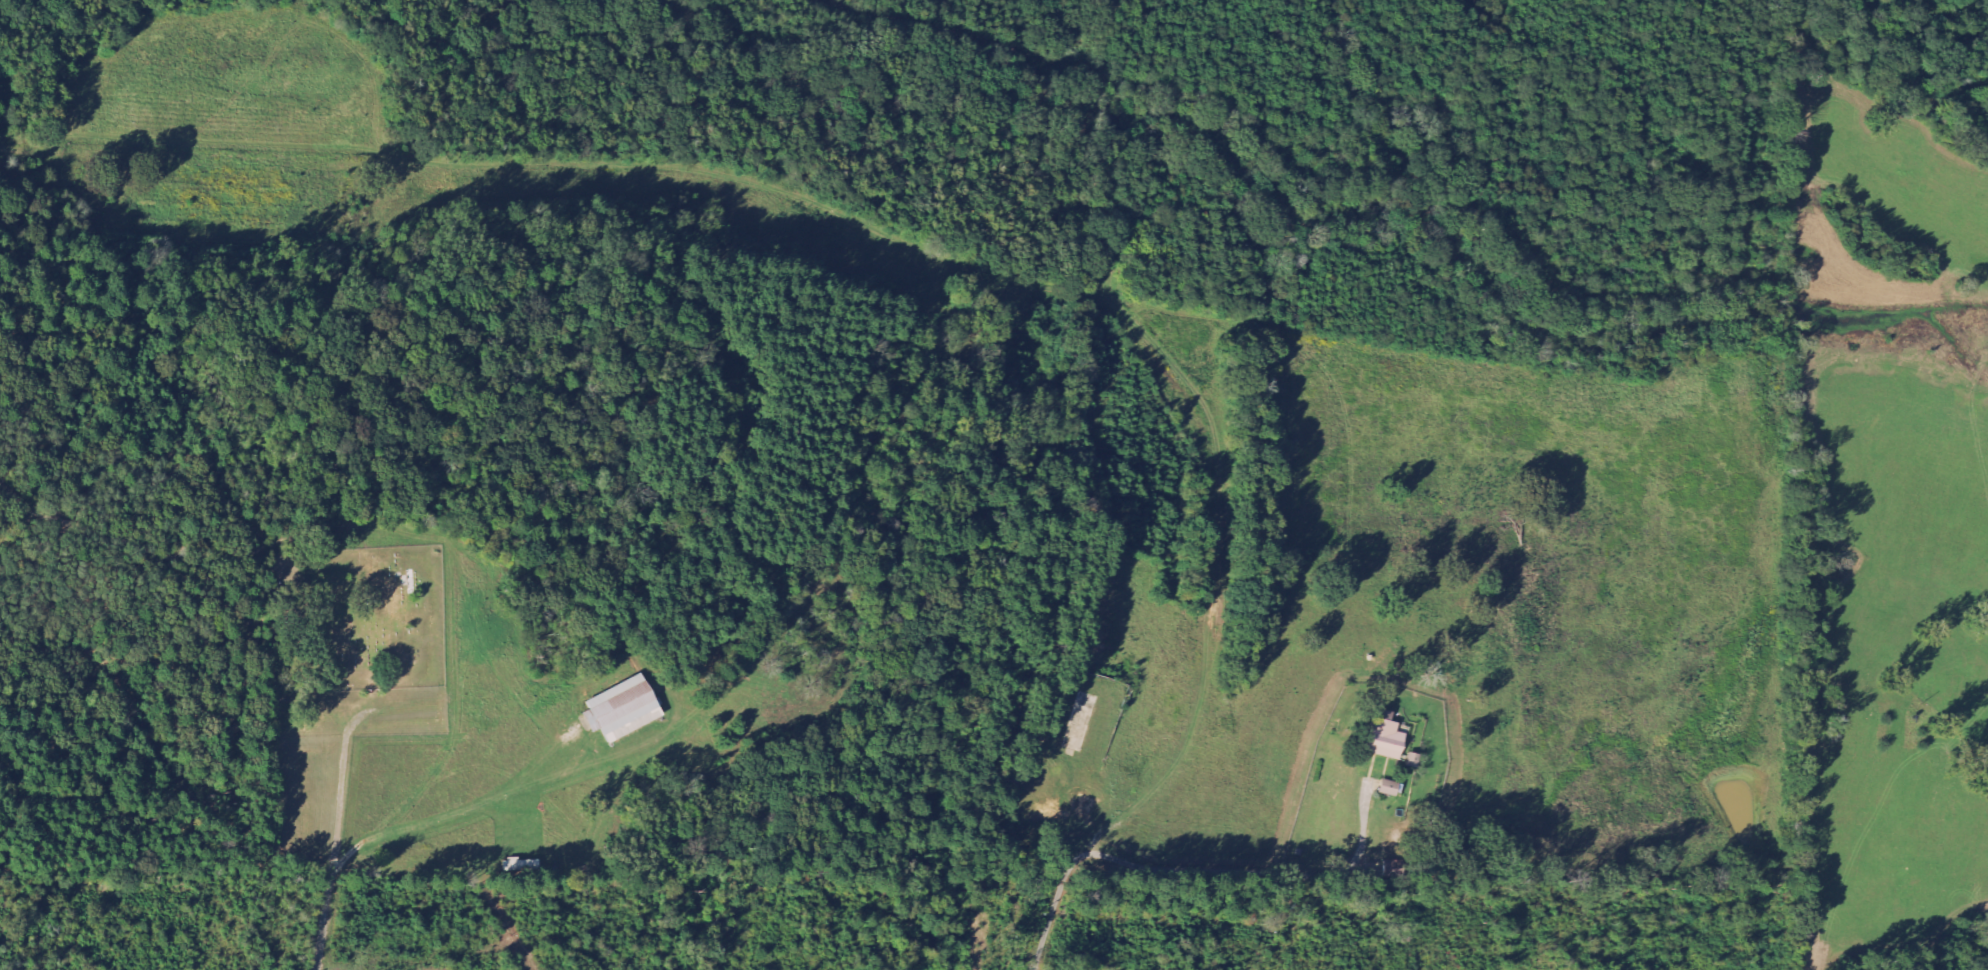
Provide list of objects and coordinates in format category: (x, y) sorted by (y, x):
road: (1115, 479)
park: (355, 640)
building: (627, 709)
building: (1388, 739)
building: (1416, 761)
building: (1392, 788)
road: (1069, 819)
building: (526, 865)
building: (1397, 868)

